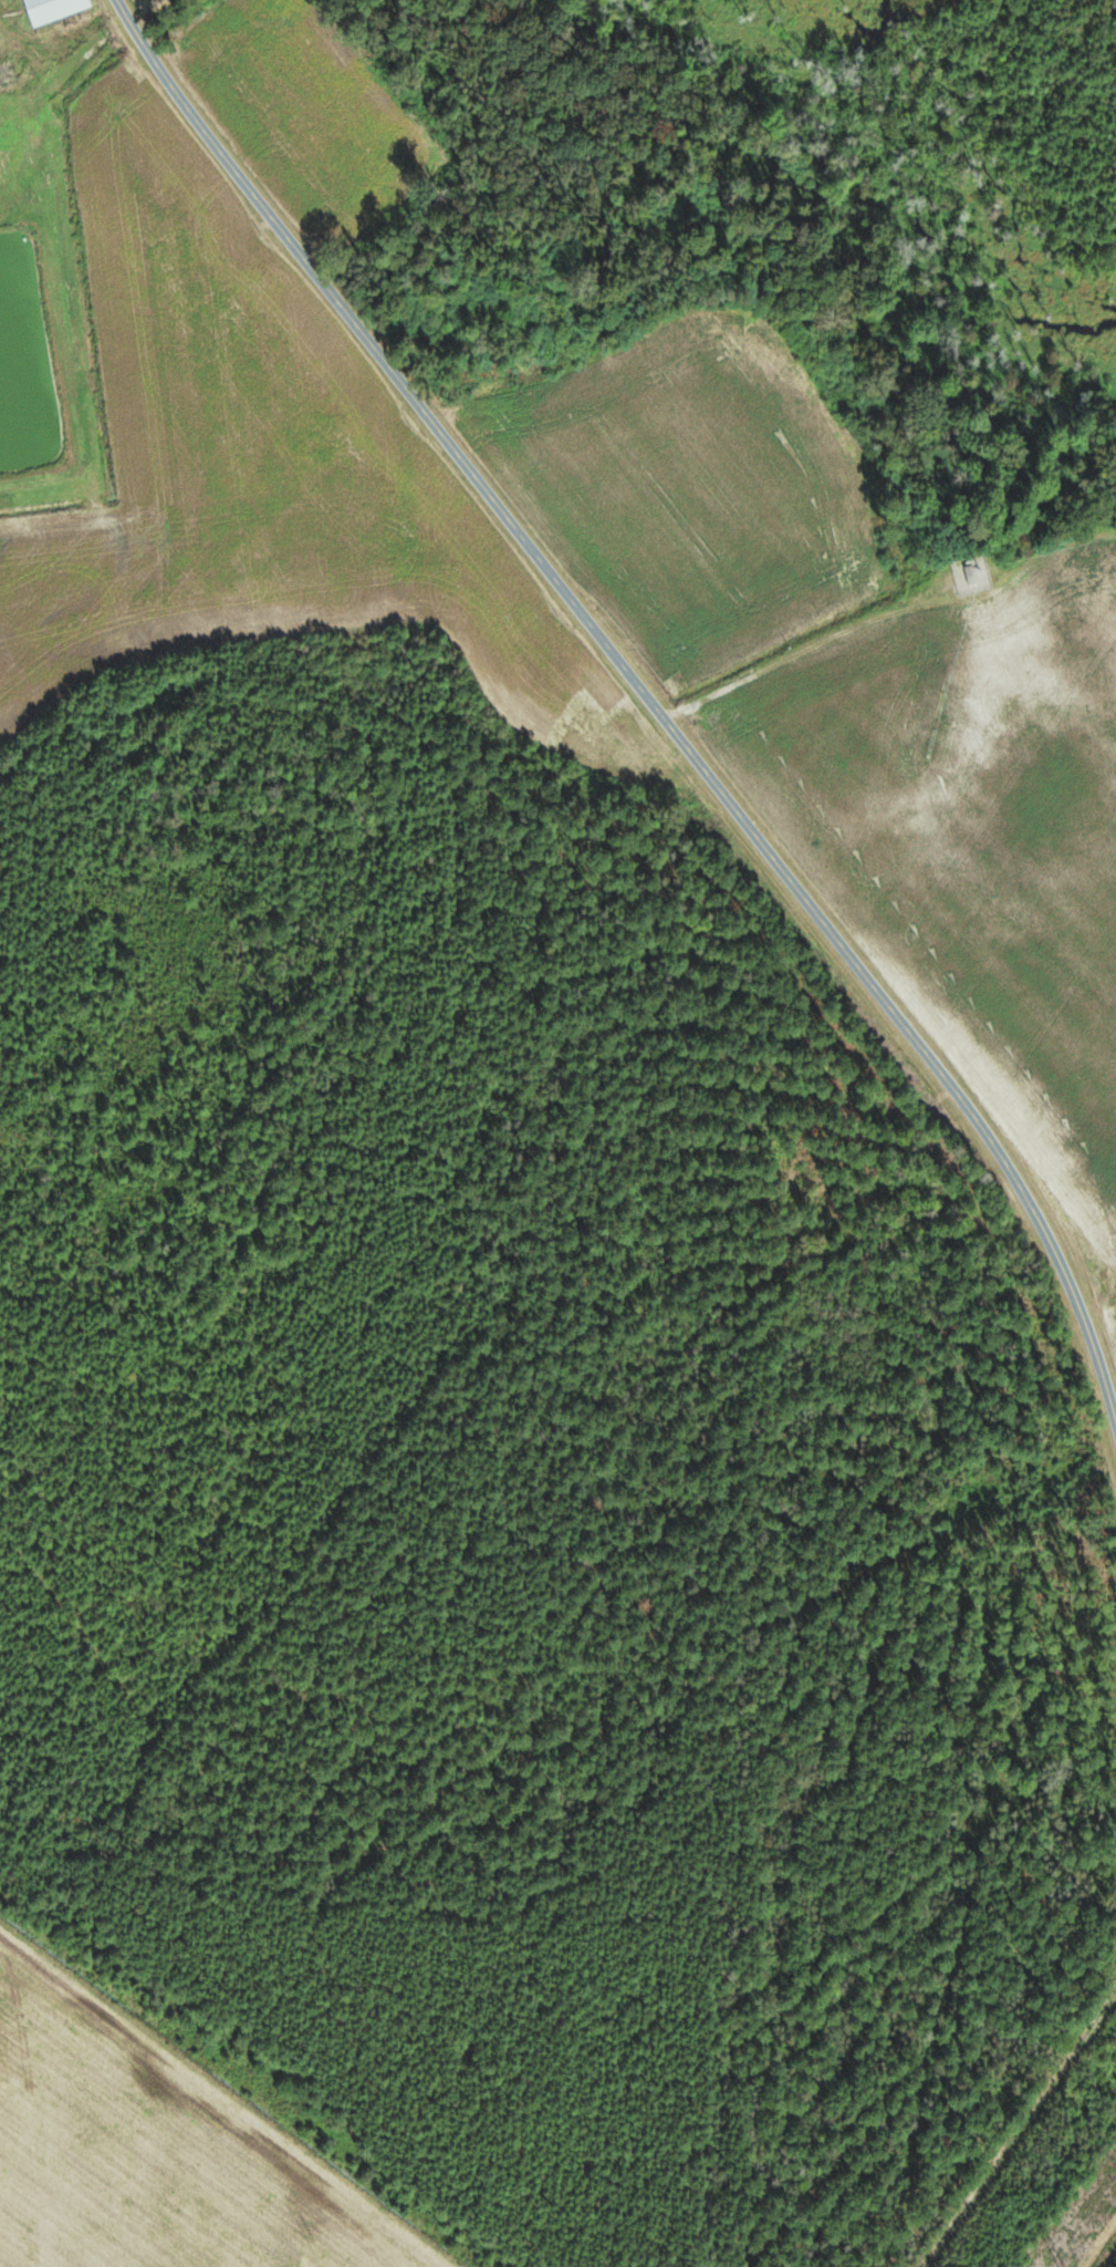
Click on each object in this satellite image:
building: (55, 9)
road: (647, 700)
railway: (1026, 2133)

